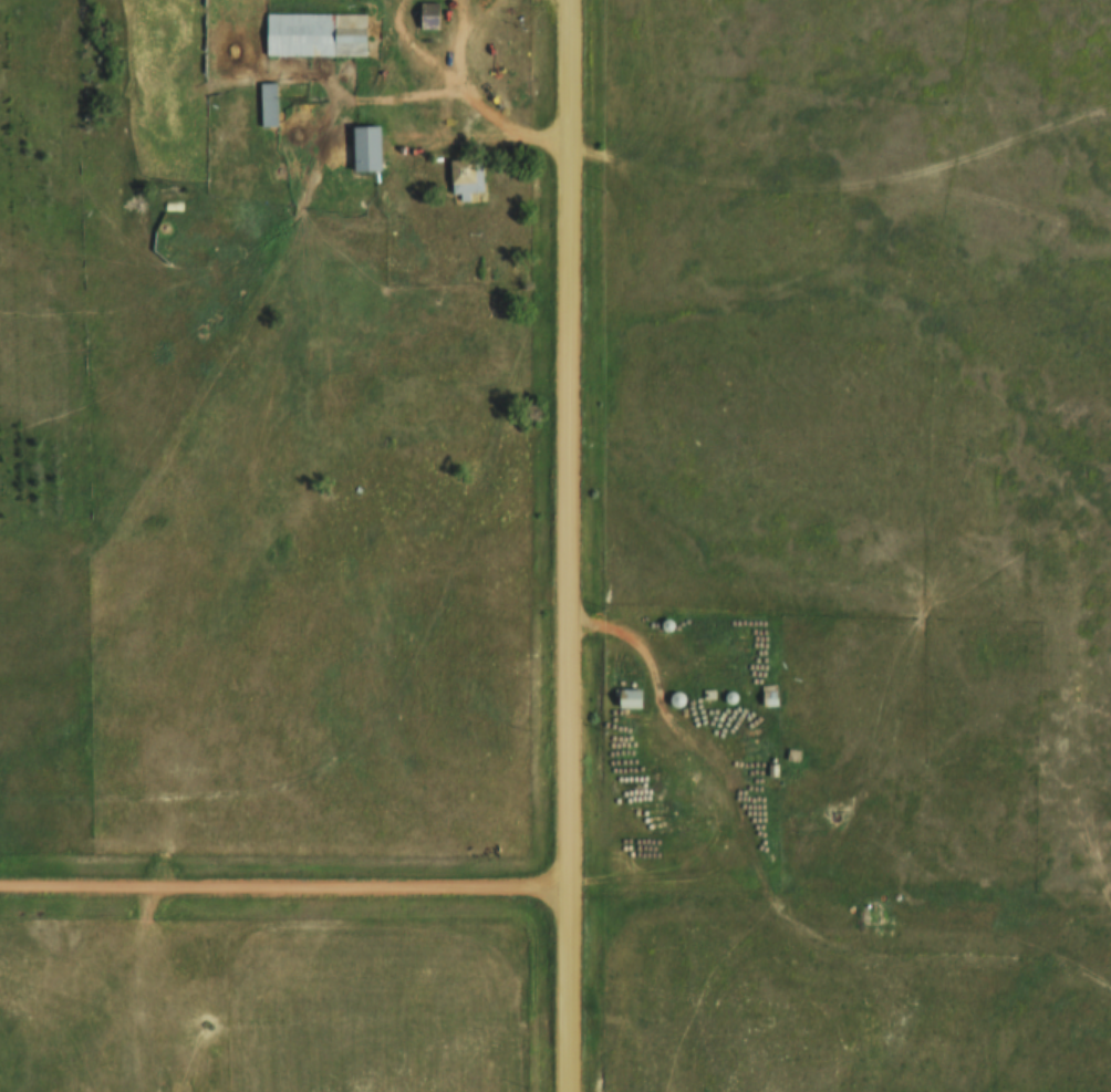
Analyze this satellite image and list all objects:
building: (429, 15)
building: (315, 35)
road: (466, 89)
building: (268, 105)
building: (366, 148)
building: (466, 178)
road: (842, 191)
road: (568, 545)
building: (769, 697)
building: (630, 699)
road: (667, 719)
road: (283, 892)
road: (907, 943)

